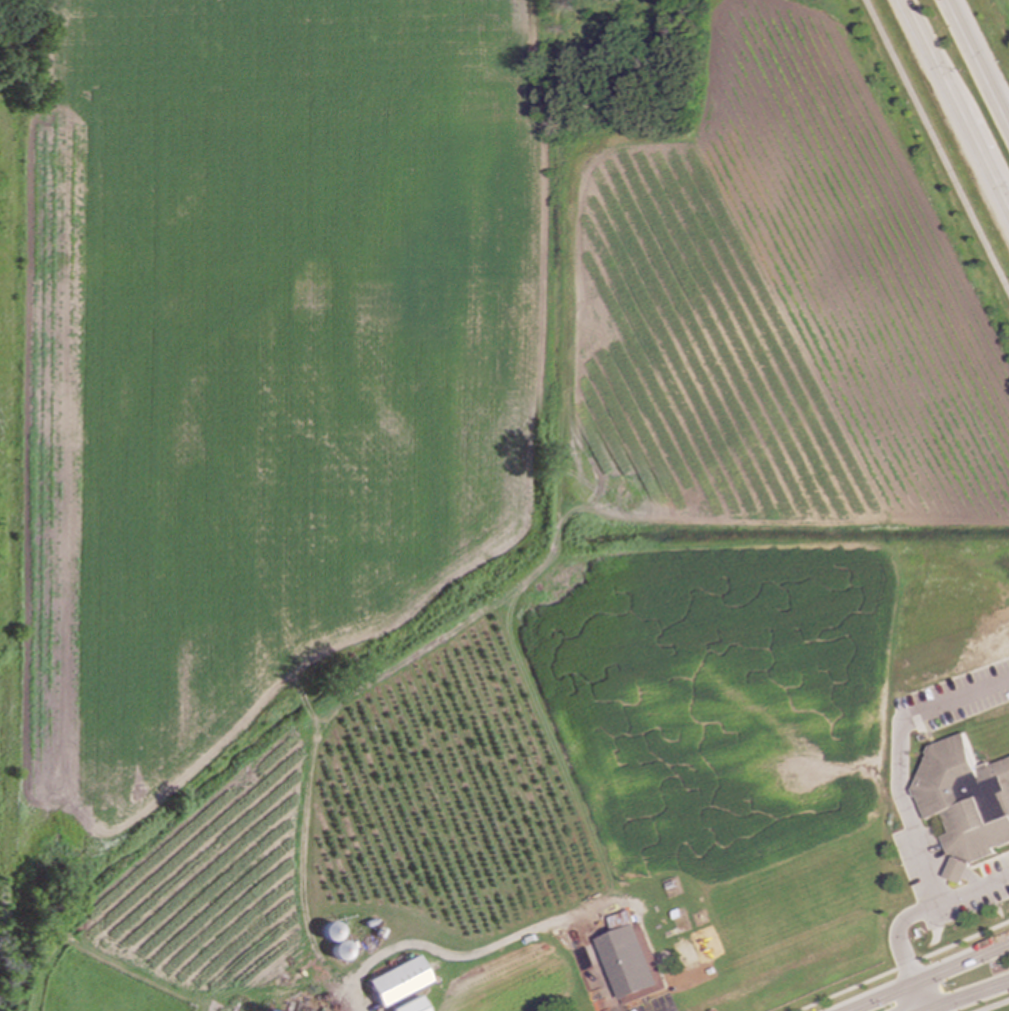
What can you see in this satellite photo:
road: (975, 66)
road: (953, 113)
road: (933, 154)
crop: (775, 310)
crop: (260, 365)
crop: (732, 739)
road: (895, 756)
crop: (448, 799)
building: (963, 801)
crop: (218, 886)
road: (911, 915)
building: (330, 930)
building: (340, 951)
road: (444, 953)
building: (631, 960)
road: (902, 965)
road: (930, 977)
building: (397, 981)
road: (975, 993)
road: (993, 1005)
building: (409, 1006)
road: (934, 1008)
road: (946, 1008)
building: (272, 1010)

